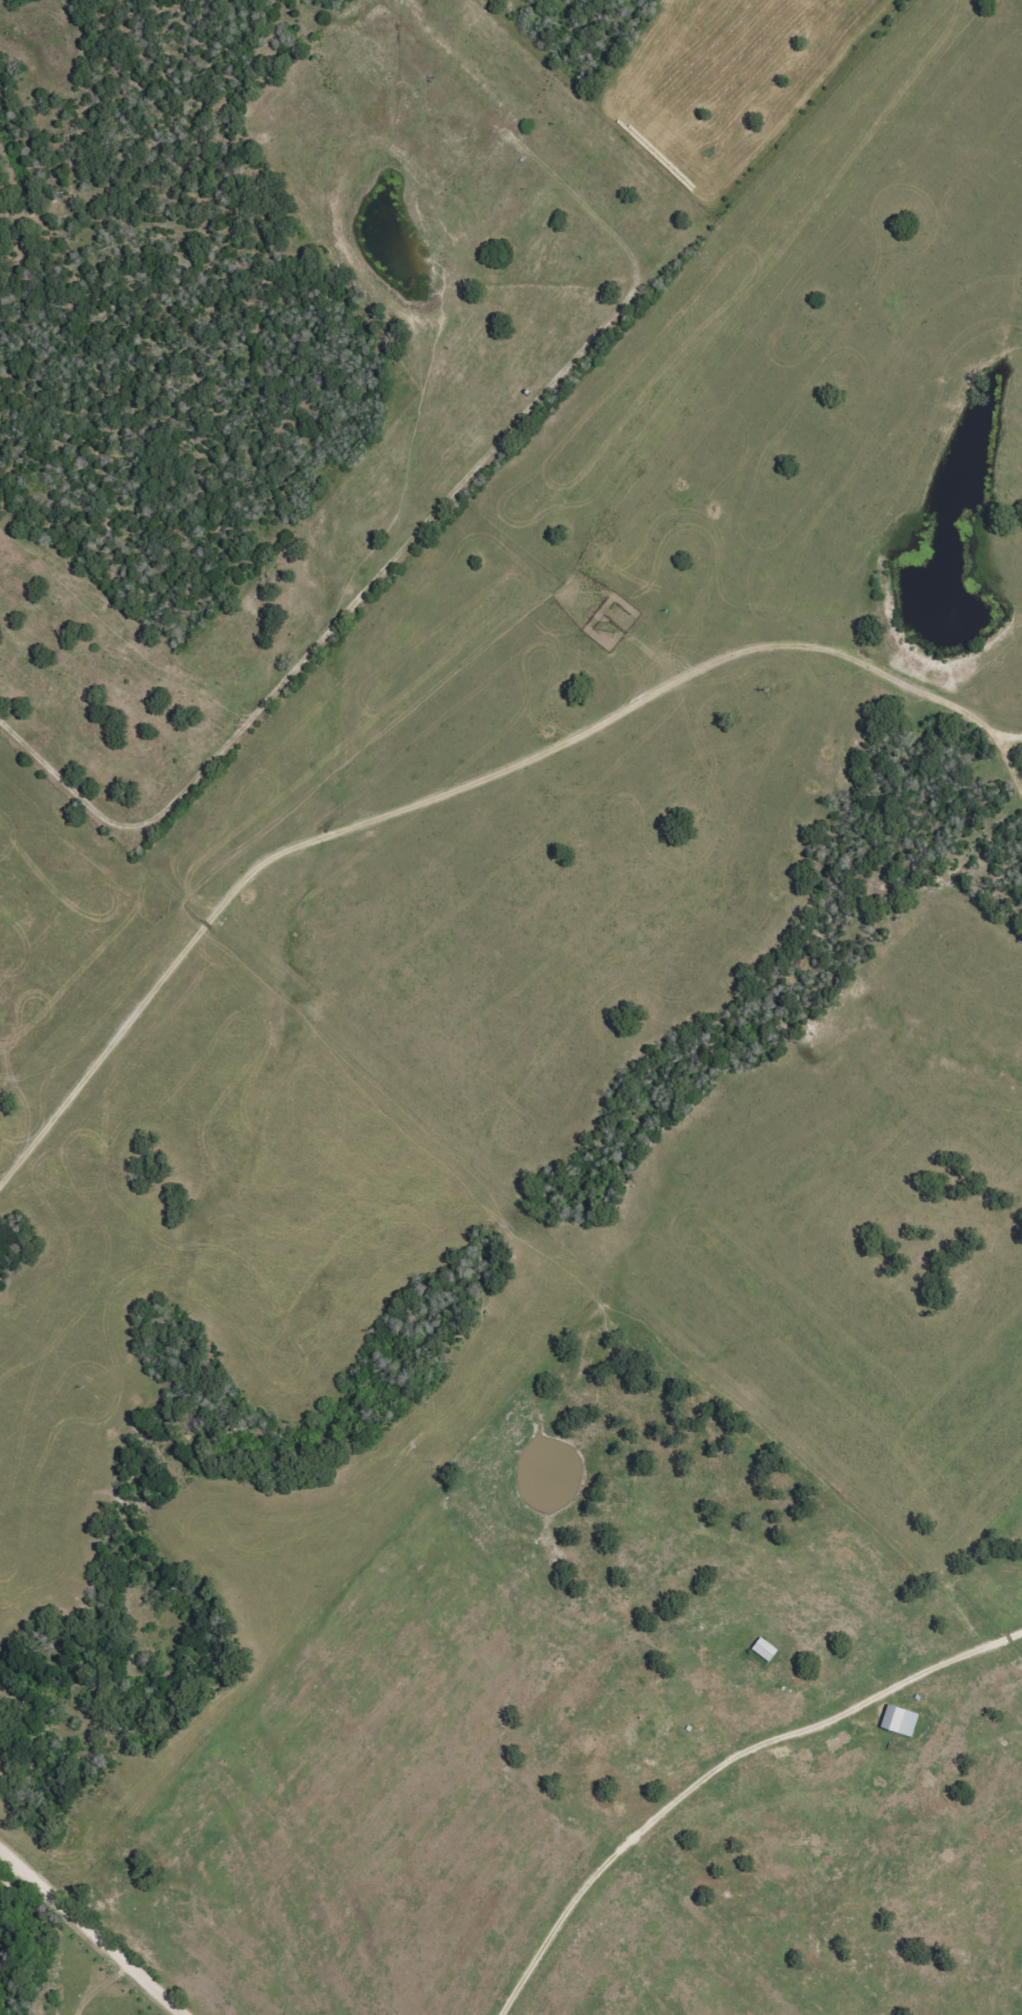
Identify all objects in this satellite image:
road: (74, 694)
road: (93, 1930)

